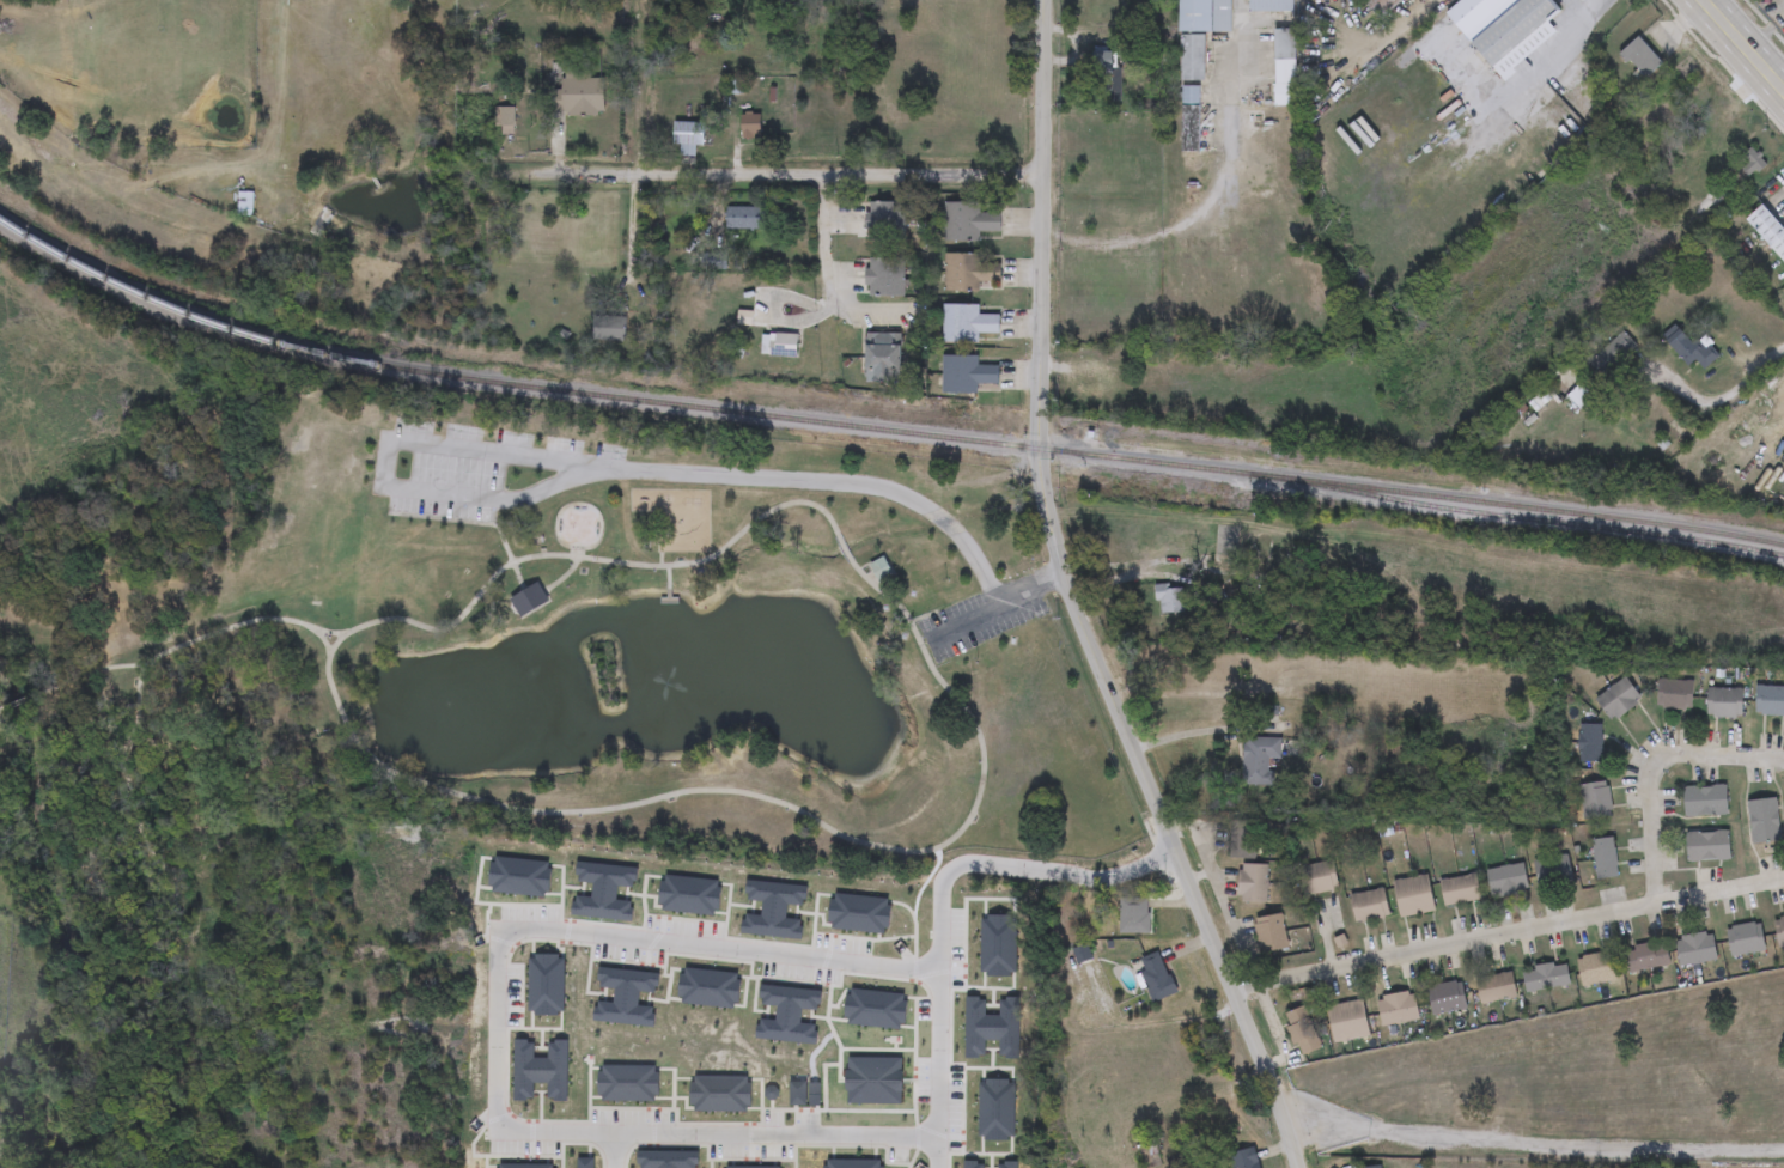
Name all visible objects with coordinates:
building: (1421, 1)
building: (1271, 6)
building: (1382, 6)
building: (1204, 16)
building: (1505, 29)
road: (1745, 44)
building: (1192, 59)
building: (1285, 67)
building: (1102, 75)
road: (1528, 79)
building: (579, 95)
building: (1692, 99)
building: (1191, 120)
building: (751, 126)
building: (687, 135)
building: (1716, 136)
building: (1753, 160)
road: (574, 170)
road: (839, 174)
building: (244, 205)
building: (744, 219)
building: (887, 223)
building: (969, 223)
road: (628, 226)
building: (1768, 231)
road: (827, 266)
building: (970, 274)
building: (885, 279)
building: (967, 324)
building: (609, 329)
building: (781, 346)
building: (1691, 351)
building: (1611, 355)
building: (883, 358)
building: (966, 376)
building: (1579, 396)
road: (1721, 396)
railway: (878, 428)
parking lot: (473, 464)
road: (580, 475)
railway: (1530, 519)
road: (461, 521)
fountain: (578, 527)
road: (659, 559)
road: (513, 567)
building: (879, 567)
road: (561, 576)
road: (668, 577)
road: (1121, 578)
road: (522, 586)
road: (668, 594)
building: (528, 600)
road: (668, 600)
building: (1169, 600)
road: (1072, 603)
road: (994, 609)
road: (920, 616)
parking lot: (981, 616)
road: (925, 627)
road: (317, 629)
road: (158, 655)
park: (517, 661)
fountain: (683, 663)
building: (1674, 694)
building: (1618, 699)
building: (1770, 701)
building: (1724, 702)
fountain: (494, 713)
road: (351, 730)
building: (1589, 743)
building: (1259, 760)
building: (1595, 799)
building: (1705, 801)
building: (1764, 820)
road: (1654, 833)
road: (1194, 835)
building: (1242, 840)
building: (1707, 846)
building: (1605, 858)
building: (1553, 870)
building: (1319, 878)
building: (1508, 880)
building: (1252, 882)
building: (1460, 889)
building: (1413, 896)
road: (939, 902)
road: (182, 905)
building: (1369, 906)
building: (1133, 915)
road: (1226, 915)
building: (1779, 931)
building: (1269, 933)
building: (1746, 938)
road: (1442, 945)
building: (1695, 949)
building: (1645, 957)
building: (1596, 969)
building: (1156, 977)
building: (1547, 978)
building: (1496, 988)
building: (1447, 998)
building: (1399, 1009)
road: (511, 1020)
building: (1348, 1021)
building: (1301, 1032)
road: (1530, 1143)
road: (622, 1145)
building: (1243, 1158)
building: (1376, 1167)

